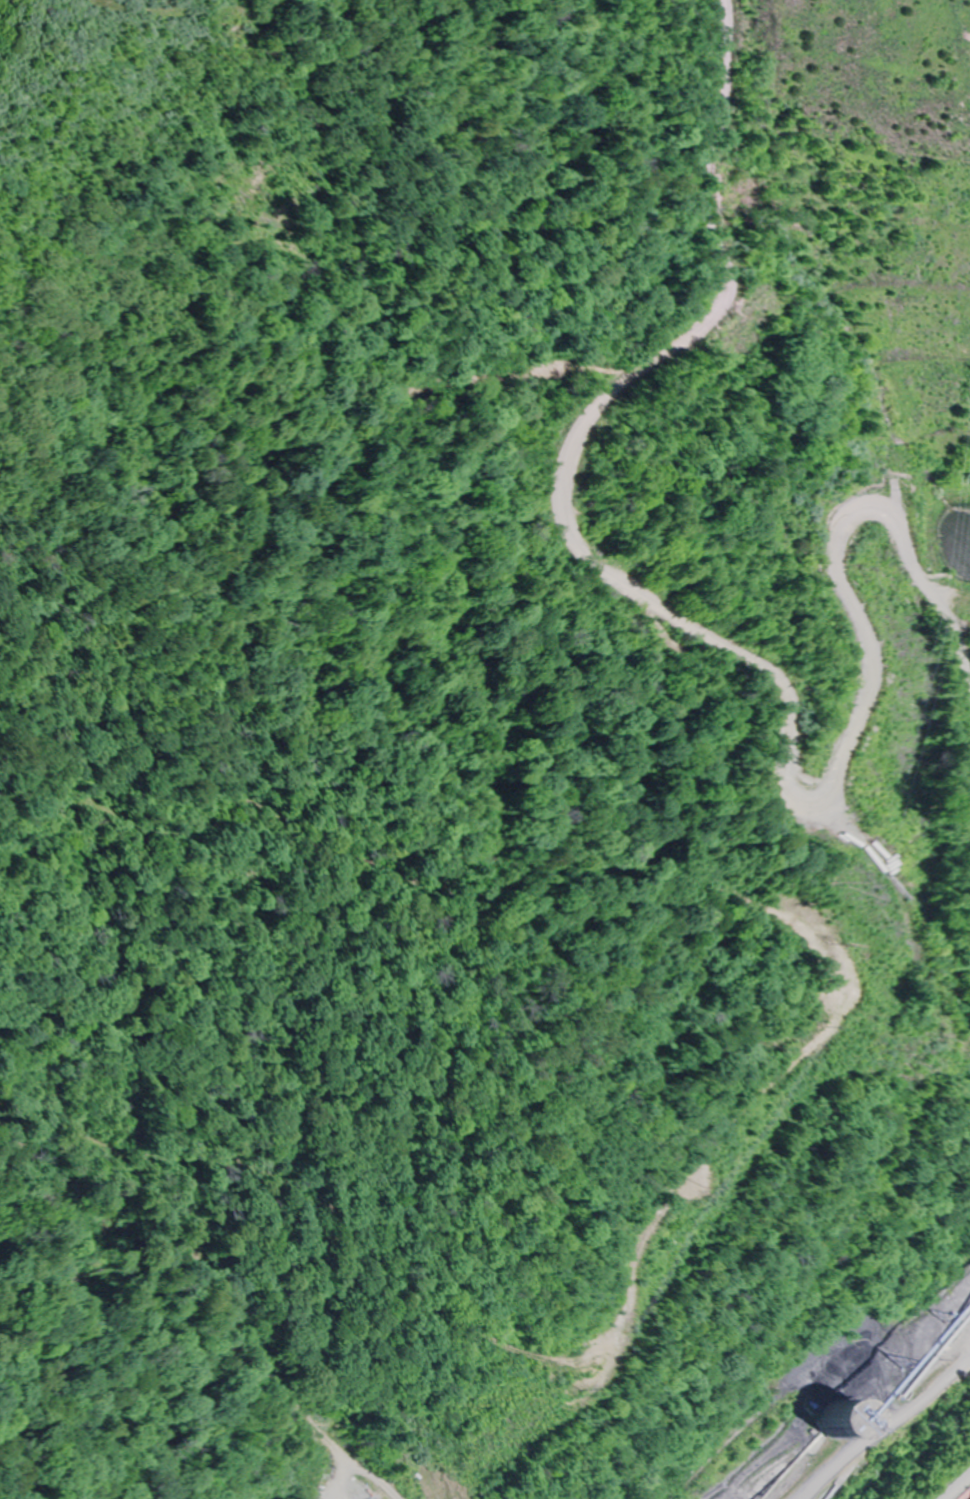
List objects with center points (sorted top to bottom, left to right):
road: (969, 1498)

